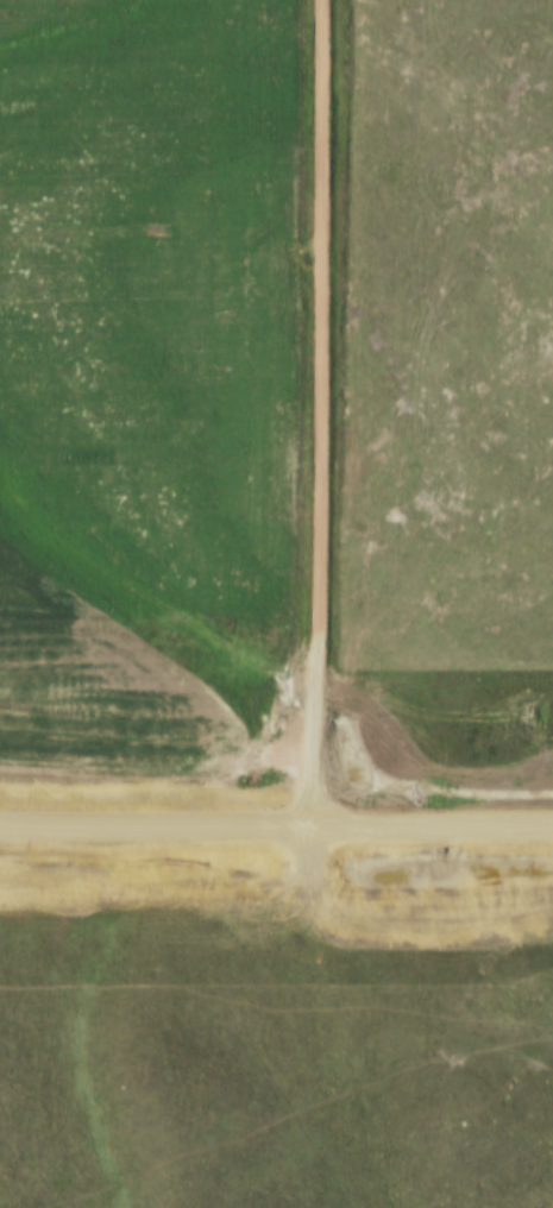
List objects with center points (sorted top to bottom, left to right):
road: (322, 411)
road: (276, 823)

